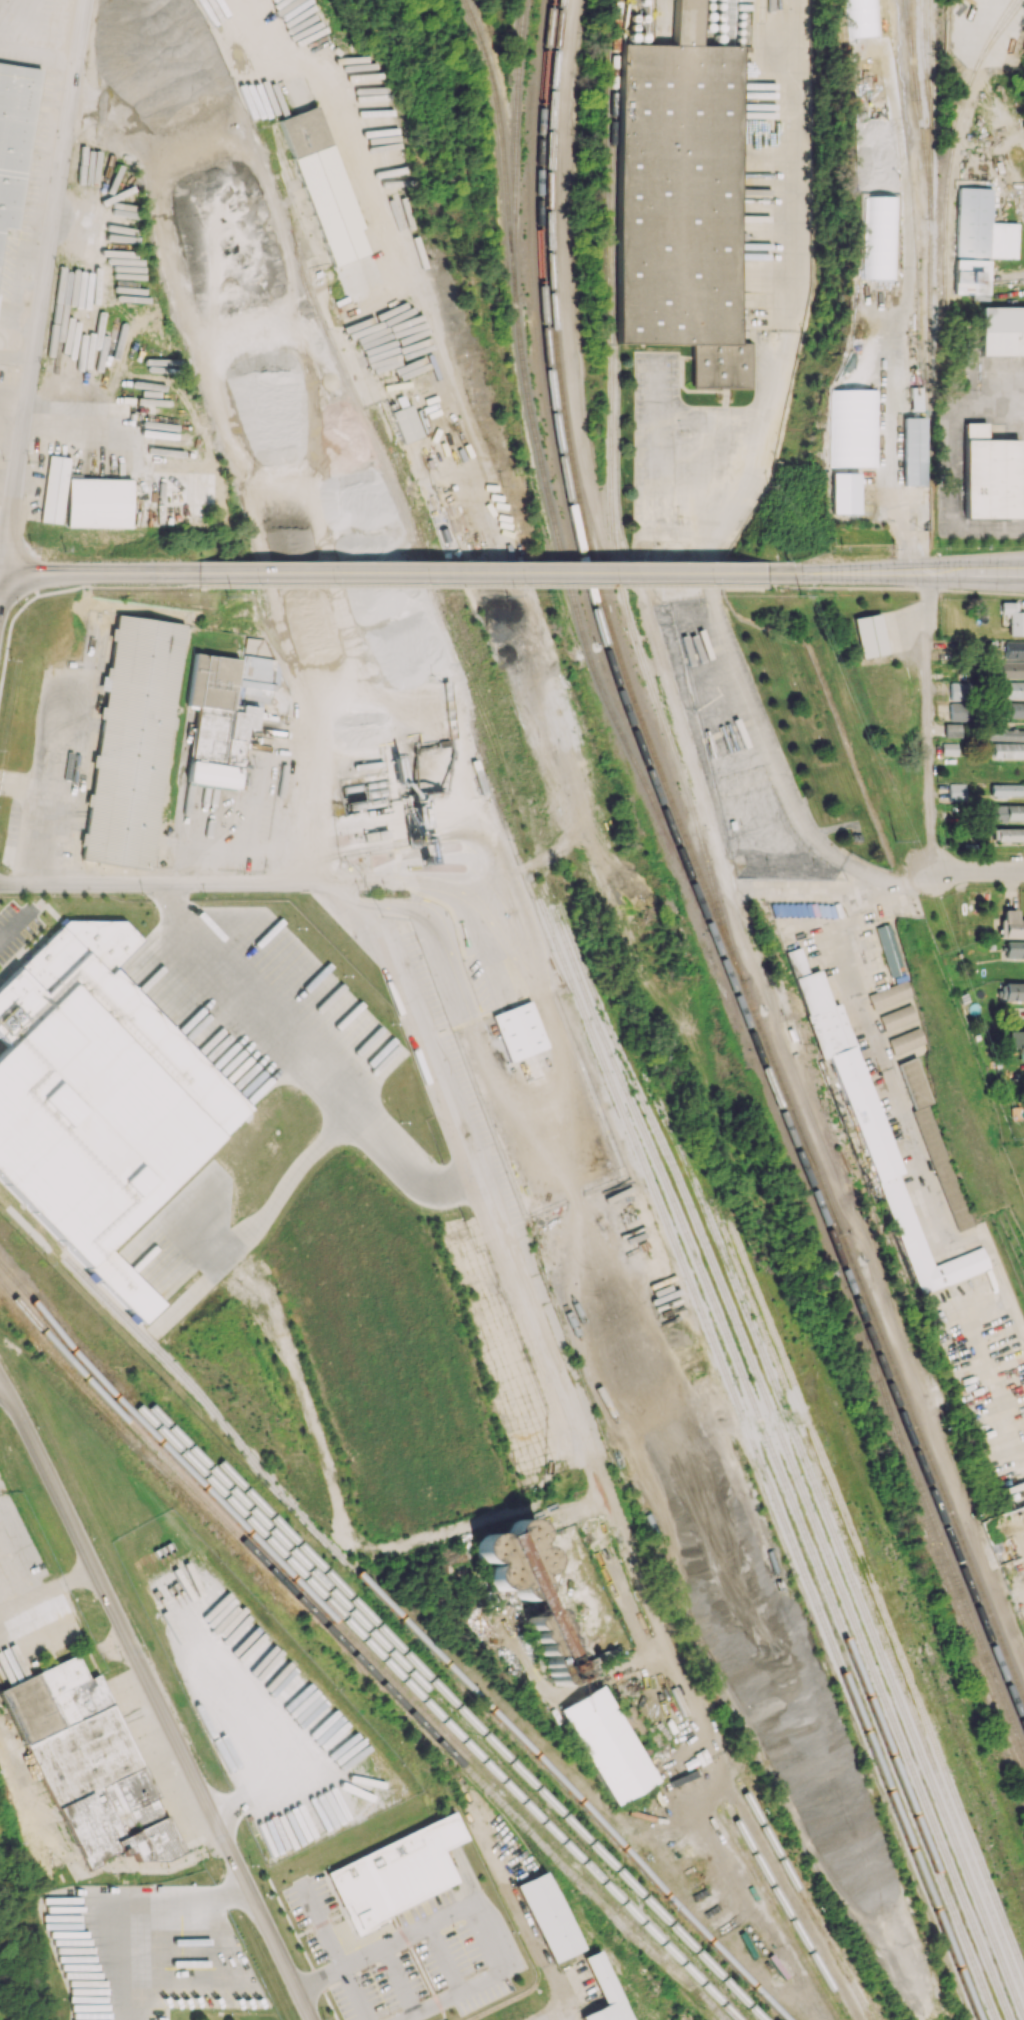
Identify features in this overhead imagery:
railway: (991, 38)
road: (19, 41)
railway: (915, 48)
railway: (932, 63)
railway: (920, 107)
building: (15, 138)
railway: (502, 138)
railway: (518, 140)
railway: (953, 148)
railway: (286, 160)
building: (323, 185)
road: (377, 209)
building: (981, 227)
railway: (930, 240)
railway: (297, 253)
building: (972, 278)
road: (42, 293)
building: (1002, 330)
road: (14, 384)
building: (406, 423)
building: (852, 427)
road: (887, 443)
building: (914, 451)
road: (960, 466)
building: (989, 474)
building: (54, 489)
railway: (611, 497)
building: (98, 502)
road: (724, 511)
railway: (414, 548)
road: (974, 572)
road: (99, 573)
road: (479, 573)
road: (835, 573)
road: (917, 573)
road: (481, 583)
road: (895, 587)
road: (63, 588)
railway: (570, 592)
power tower: (506, 598)
building: (1013, 618)
railway: (609, 620)
building: (870, 635)
building: (1014, 650)
building: (1011, 669)
railway: (479, 687)
building: (1014, 689)
building: (959, 691)
building: (1013, 710)
building: (958, 711)
building: (225, 713)
road: (679, 720)
road: (926, 722)
building: (952, 730)
building: (1002, 733)
building: (134, 742)
building: (950, 748)
building: (1007, 750)
road: (314, 775)
building: (1007, 789)
building: (1007, 812)
building: (1008, 834)
road: (228, 851)
road: (976, 871)
railway: (692, 883)
road: (176, 884)
road: (459, 887)
road: (796, 891)
road: (16, 924)
building: (1011, 924)
parking lot: (15, 928)
road: (438, 932)
building: (1014, 949)
building: (889, 950)
building: (796, 960)
building: (1013, 991)
building: (890, 994)
building: (898, 1017)
building: (519, 1031)
building: (791, 1033)
building: (907, 1040)
building: (1017, 1040)
parking lot: (0, 1044)
road: (306, 1048)
road: (537, 1095)
building: (99, 1096)
road: (906, 1120)
railway: (795, 1131)
building: (878, 1141)
building: (935, 1142)
road: (281, 1188)
road: (476, 1204)
railway: (738, 1220)
railway: (563, 1364)
railway: (724, 1370)
railway: (772, 1451)
railway: (927, 1452)
railway: (788, 1458)
railway: (927, 1531)
railway: (837, 1542)
railway: (853, 1555)
railway: (951, 1564)
road: (53, 1585)
building: (530, 1592)
railway: (877, 1594)
railway: (333, 1619)
railway: (413, 1621)
railway: (425, 1640)
railway: (934, 1647)
railway: (925, 1651)
railway: (357, 1655)
railway: (357, 1664)
railway: (957, 1682)
railway: (445, 1693)
road: (158, 1697)
railway: (436, 1697)
railway: (425, 1699)
railway: (941, 1713)
building: (608, 1745)
building: (90, 1765)
railway: (968, 1805)
building: (395, 1873)
railway: (805, 1898)
railway: (791, 1911)
railway: (778, 1915)
building: (549, 1917)
road: (157, 1924)
road: (301, 1946)
road: (389, 1947)
road: (335, 1951)
parking lot: (410, 1955)
road: (414, 1955)
road: (444, 1959)
road: (485, 1977)
road: (398, 1982)
building: (604, 1992)
road: (561, 2012)

